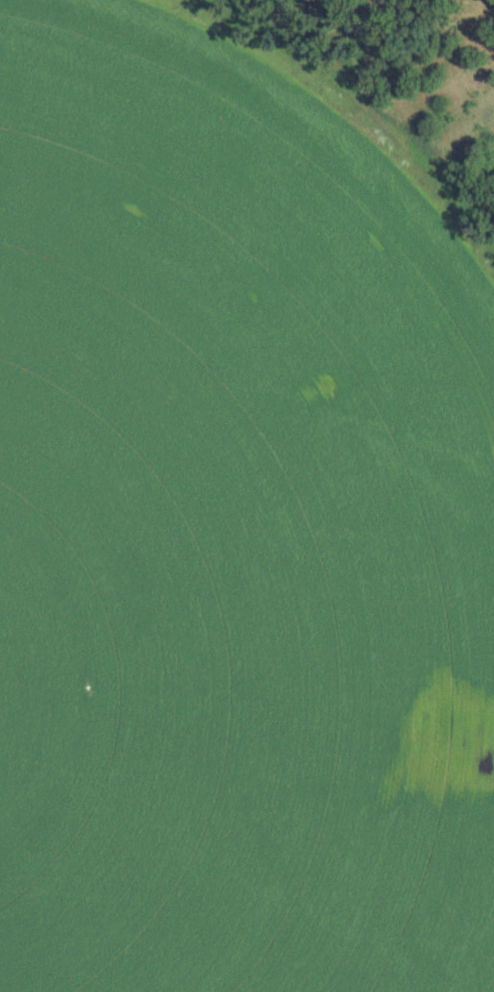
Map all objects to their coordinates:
wastewater plant: (247, 496)

